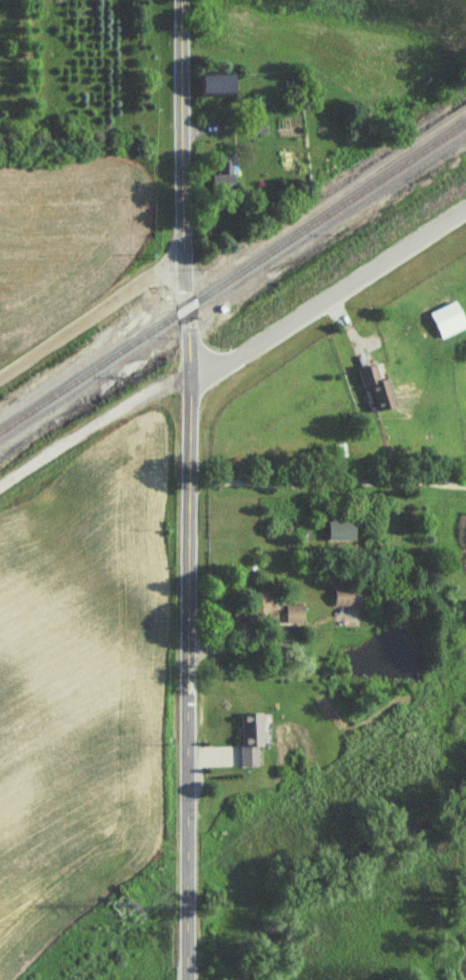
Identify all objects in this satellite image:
crop: (365, 38)
building: (219, 86)
building: (226, 175)
railway: (233, 279)
road: (328, 303)
road: (91, 316)
building: (448, 321)
building: (377, 392)
road: (328, 477)
road: (189, 489)
building: (341, 532)
building: (348, 598)
building: (260, 609)
building: (295, 615)
building: (252, 740)
power tower: (125, 909)

